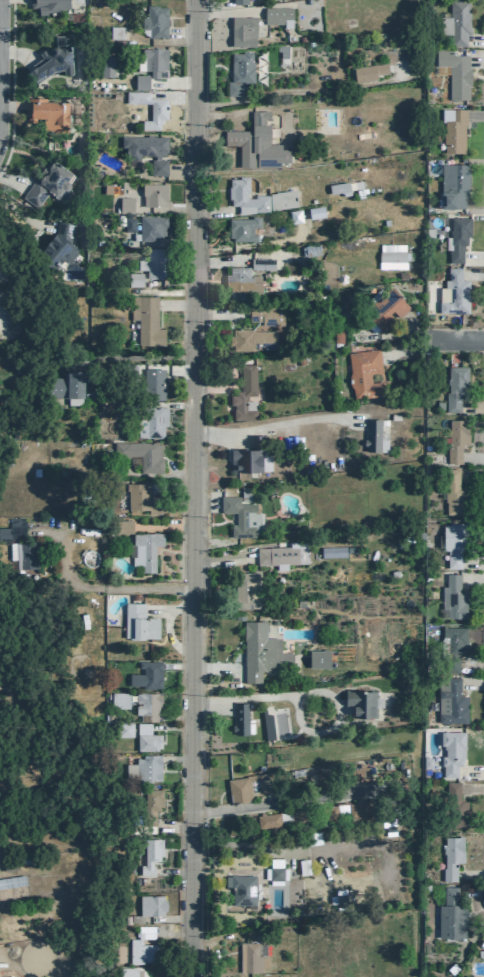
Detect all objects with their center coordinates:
building: (239, 1)
building: (47, 5)
building: (277, 16)
building: (154, 21)
building: (455, 22)
road: (183, 31)
building: (242, 31)
building: (115, 32)
road: (475, 40)
building: (281, 50)
building: (53, 58)
road: (476, 60)
building: (151, 61)
building: (104, 66)
building: (367, 71)
building: (238, 72)
building: (454, 73)
building: (140, 82)
road: (173, 84)
road: (11, 85)
road: (303, 91)
road: (174, 94)
road: (482, 106)
building: (147, 107)
building: (47, 113)
road: (475, 117)
building: (452, 129)
building: (255, 143)
building: (144, 146)
building: (157, 166)
road: (183, 168)
building: (47, 184)
building: (357, 184)
building: (452, 184)
building: (338, 187)
building: (153, 194)
building: (256, 197)
road: (474, 203)
building: (124, 204)
road: (173, 209)
building: (314, 211)
building: (294, 216)
road: (21, 219)
building: (385, 221)
building: (127, 224)
building: (150, 227)
building: (240, 229)
building: (456, 238)
road: (169, 242)
building: (55, 249)
building: (309, 249)
building: (390, 256)
road: (473, 257)
road: (220, 261)
building: (154, 262)
building: (261, 263)
road: (472, 274)
building: (401, 275)
building: (133, 279)
road: (170, 281)
building: (240, 282)
building: (452, 293)
road: (178, 304)
building: (384, 308)
road: (221, 313)
building: (265, 314)
building: (145, 320)
road: (414, 328)
road: (390, 333)
building: (250, 339)
road: (455, 339)
road: (406, 350)
road: (130, 357)
building: (363, 373)
building: (152, 383)
building: (65, 386)
road: (214, 387)
building: (454, 387)
building: (92, 394)
building: (243, 395)
road: (174, 404)
road: (473, 405)
building: (150, 422)
road: (276, 423)
building: (373, 436)
building: (455, 438)
building: (140, 454)
building: (246, 455)
road: (473, 459)
road: (178, 471)
road: (194, 488)
building: (86, 494)
building: (244, 494)
building: (452, 494)
building: (142, 498)
building: (241, 516)
building: (122, 527)
road: (164, 527)
building: (3, 535)
building: (453, 542)
building: (143, 549)
building: (278, 553)
building: (333, 553)
building: (24, 554)
road: (472, 578)
road: (89, 586)
building: (247, 588)
building: (452, 597)
road: (170, 609)
building: (137, 622)
building: (453, 646)
building: (261, 652)
building: (318, 658)
road: (178, 665)
road: (217, 669)
building: (145, 675)
road: (472, 684)
road: (314, 692)
building: (117, 699)
building: (450, 701)
building: (361, 702)
building: (147, 705)
road: (176, 716)
building: (239, 718)
road: (172, 726)
building: (124, 729)
building: (146, 738)
building: (451, 751)
road: (177, 757)
building: (426, 762)
building: (143, 768)
road: (472, 771)
building: (354, 774)
building: (325, 778)
road: (473, 785)
building: (252, 786)
road: (288, 801)
road: (282, 806)
building: (149, 807)
building: (454, 807)
building: (357, 808)
building: (299, 816)
building: (268, 820)
road: (174, 824)
road: (240, 845)
building: (149, 855)
building: (450, 856)
road: (173, 871)
building: (274, 873)
road: (470, 874)
building: (12, 883)
building: (241, 887)
road: (471, 892)
building: (449, 894)
building: (339, 900)
building: (150, 905)
road: (170, 918)
building: (450, 921)
road: (173, 931)
building: (141, 945)
building: (480, 952)
building: (251, 955)
park: (37, 957)
building: (127, 972)
building: (271, 976)

